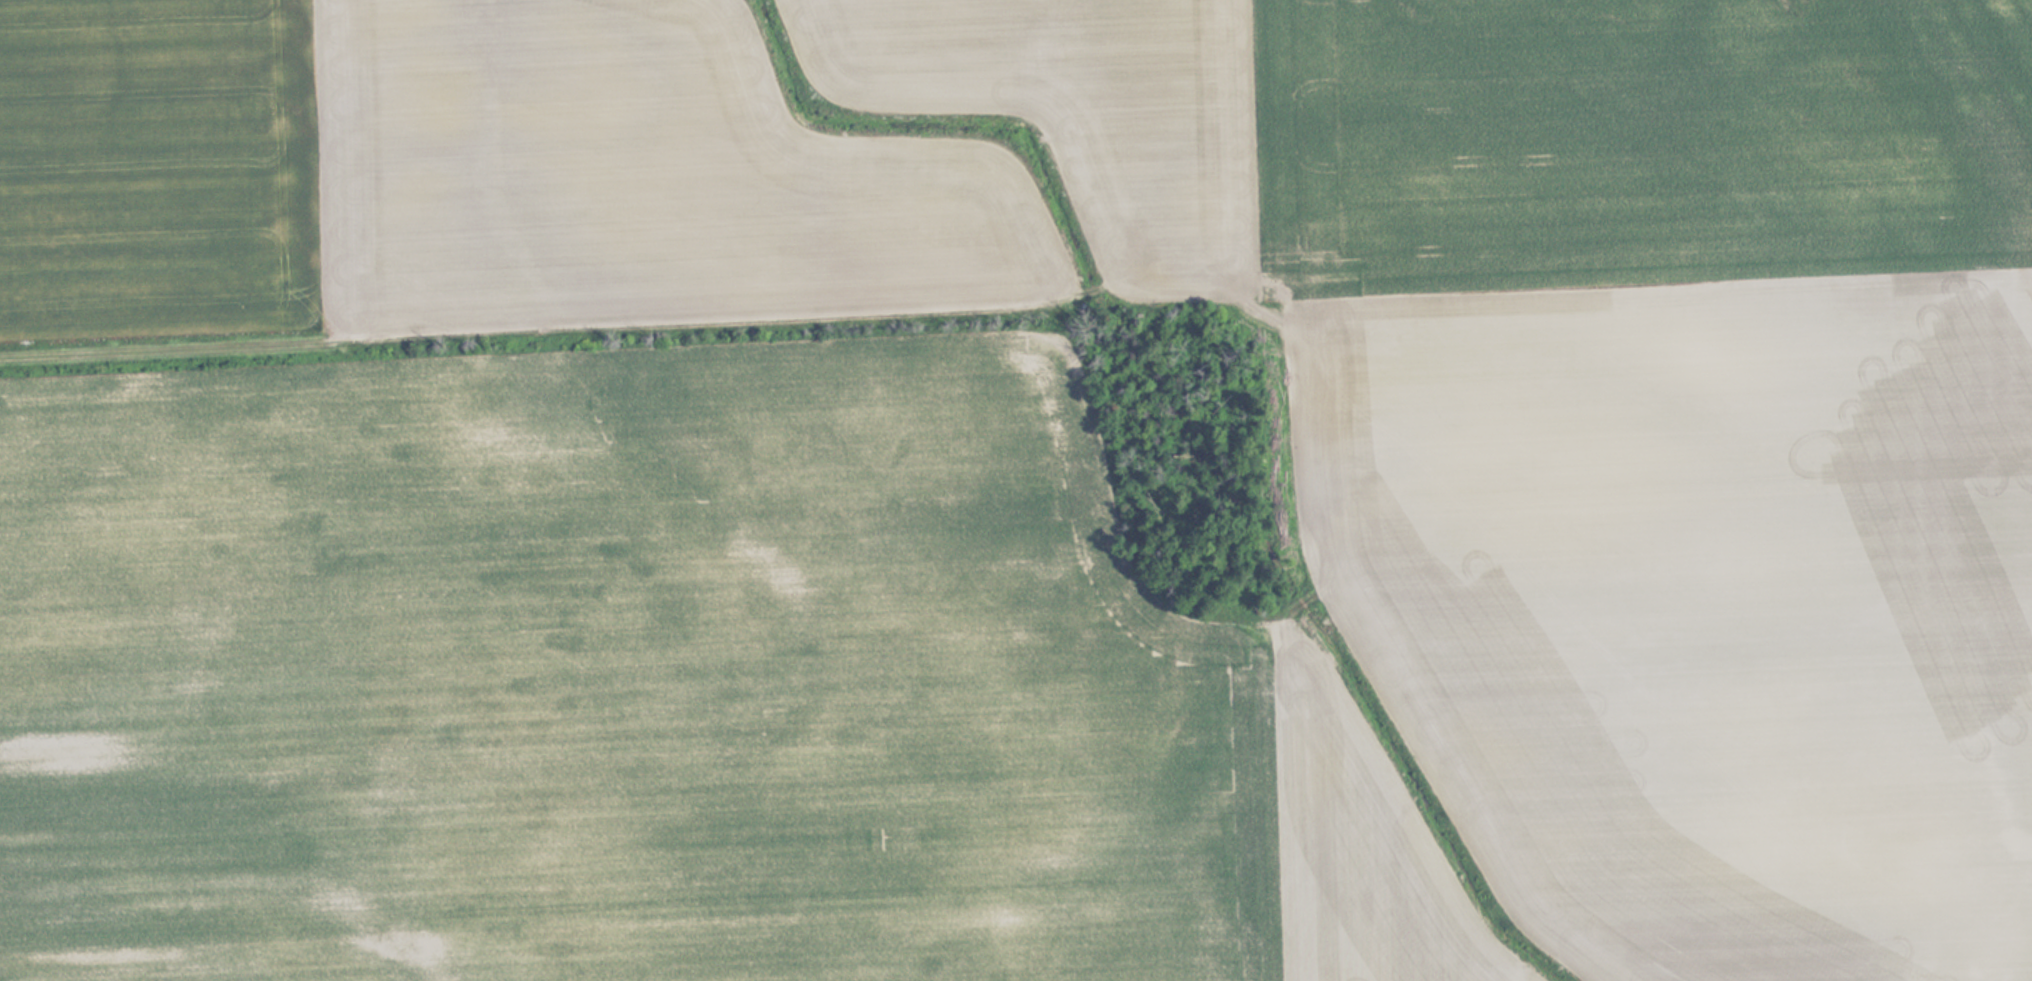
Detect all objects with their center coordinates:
road: (518, 323)
crop: (1010, 491)

